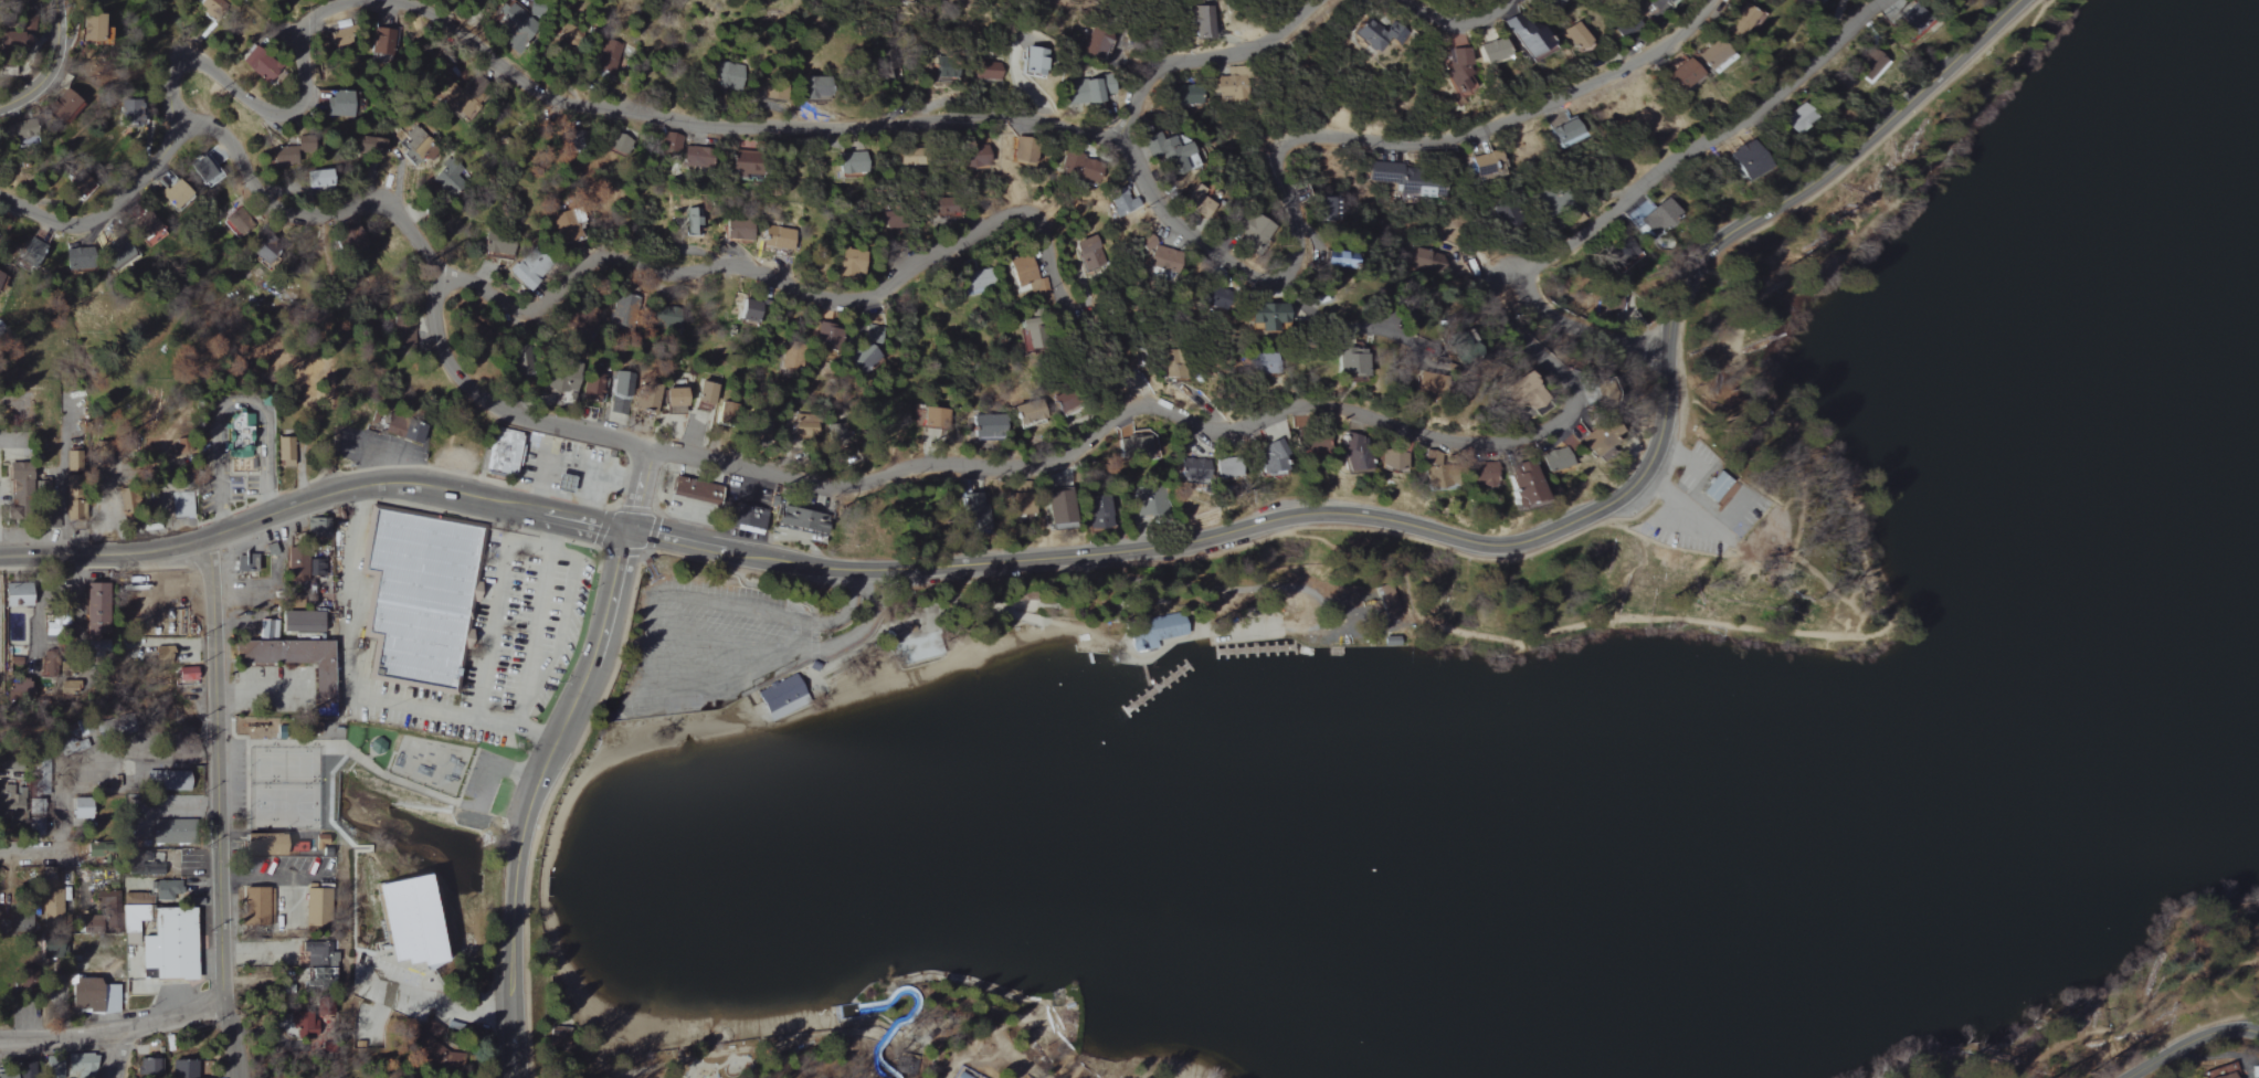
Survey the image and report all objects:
building: (1946, 0)
building: (1814, 1)
building: (1671, 2)
road: (1440, 4)
road: (469, 13)
building: (1200, 21)
building: (1743, 21)
building: (1912, 23)
building: (515, 28)
building: (101, 29)
building: (1375, 32)
building: (1579, 33)
building: (1526, 36)
building: (380, 42)
building: (1098, 43)
building: (1490, 51)
building: (1713, 55)
road: (1201, 56)
building: (608, 57)
building: (1033, 60)
building: (258, 64)
road: (50, 65)
building: (1872, 66)
building: (986, 68)
building: (1457, 68)
building: (946, 71)
building: (1679, 74)
building: (728, 76)
building: (817, 87)
building: (1229, 89)
building: (1086, 92)
building: (339, 103)
building: (64, 105)
building: (133, 112)
building: (1797, 117)
road: (953, 118)
building: (1563, 133)
building: (668, 142)
road: (1703, 144)
building: (415, 146)
building: (1168, 151)
building: (1022, 156)
building: (693, 157)
building: (1745, 160)
building: (852, 162)
building: (209, 163)
building: (1486, 165)
building: (739, 166)
building: (1077, 167)
building: (447, 176)
building: (319, 178)
building: (1403, 178)
building: (176, 194)
building: (1120, 203)
building: (1199, 203)
building: (1326, 209)
building: (1660, 215)
road: (117, 216)
building: (693, 223)
building: (237, 225)
building: (566, 228)
building: (147, 229)
building: (738, 230)
building: (1253, 233)
building: (778, 237)
building: (500, 243)
building: (33, 252)
building: (260, 252)
building: (119, 253)
building: (1089, 253)
building: (1159, 256)
building: (77, 258)
building: (1339, 258)
building: (851, 262)
road: (725, 265)
building: (530, 271)
building: (1026, 277)
building: (978, 279)
building: (1612, 306)
building: (625, 308)
building: (743, 310)
road: (1347, 311)
building: (1267, 315)
road: (1581, 328)
building: (408, 331)
building: (827, 334)
building: (473, 335)
building: (858, 358)
road: (1680, 359)
building: (792, 361)
building: (1270, 362)
building: (1351, 364)
building: (1174, 371)
building: (566, 384)
building: (1526, 392)
building: (705, 393)
building: (647, 398)
road: (233, 400)
building: (675, 400)
building: (1761, 409)
building: (1030, 413)
building: (988, 426)
building: (404, 430)
building: (833, 433)
building: (242, 434)
building: (1602, 440)
building: (1134, 446)
building: (283, 451)
building: (504, 452)
building: (1355, 453)
building: (1393, 458)
building: (1555, 458)
building: (1228, 467)
building: (1193, 468)
road: (902, 471)
building: (1482, 473)
building: (18, 475)
building: (1440, 476)
building: (1522, 483)
building: (1714, 486)
building: (693, 489)
road: (637, 490)
road: (312, 499)
road: (611, 499)
building: (172, 501)
building: (1052, 503)
building: (1151, 503)
building: (970, 509)
building: (1098, 512)
road: (1585, 515)
building: (743, 517)
road: (1696, 517)
building: (317, 526)
road: (551, 530)
road: (1869, 545)
road: (542, 546)
building: (270, 549)
road: (740, 554)
building: (245, 562)
road: (697, 562)
road: (872, 570)
road: (351, 591)
building: (416, 594)
building: (15, 595)
building: (1387, 600)
building: (88, 614)
road: (844, 614)
building: (299, 621)
building: (264, 628)
road: (856, 628)
road: (494, 631)
building: (1153, 632)
road: (560, 633)
road: (535, 637)
road: (798, 637)
parking lot: (733, 642)
road: (647, 644)
road: (712, 646)
building: (162, 655)
building: (184, 675)
building: (17, 687)
building: (781, 697)
park: (1547, 699)
road: (458, 715)
park: (431, 761)
building: (163, 781)
road: (531, 797)
building: (80, 807)
road: (176, 807)
road: (215, 807)
building: (320, 841)
building: (261, 844)
building: (297, 847)
road: (22, 854)
building: (150, 859)
road: (265, 880)
building: (253, 905)
building: (315, 908)
building: (404, 919)
building: (131, 922)
building: (167, 945)
building: (93, 995)
road: (439, 1007)
road: (2140, 1016)
building: (300, 1026)
road: (113, 1032)
road: (2181, 1036)
road: (2191, 1043)
road: (114, 1055)
building: (82, 1065)
building: (147, 1066)
building: (183, 1069)
building: (52, 1070)
building: (8, 1076)

